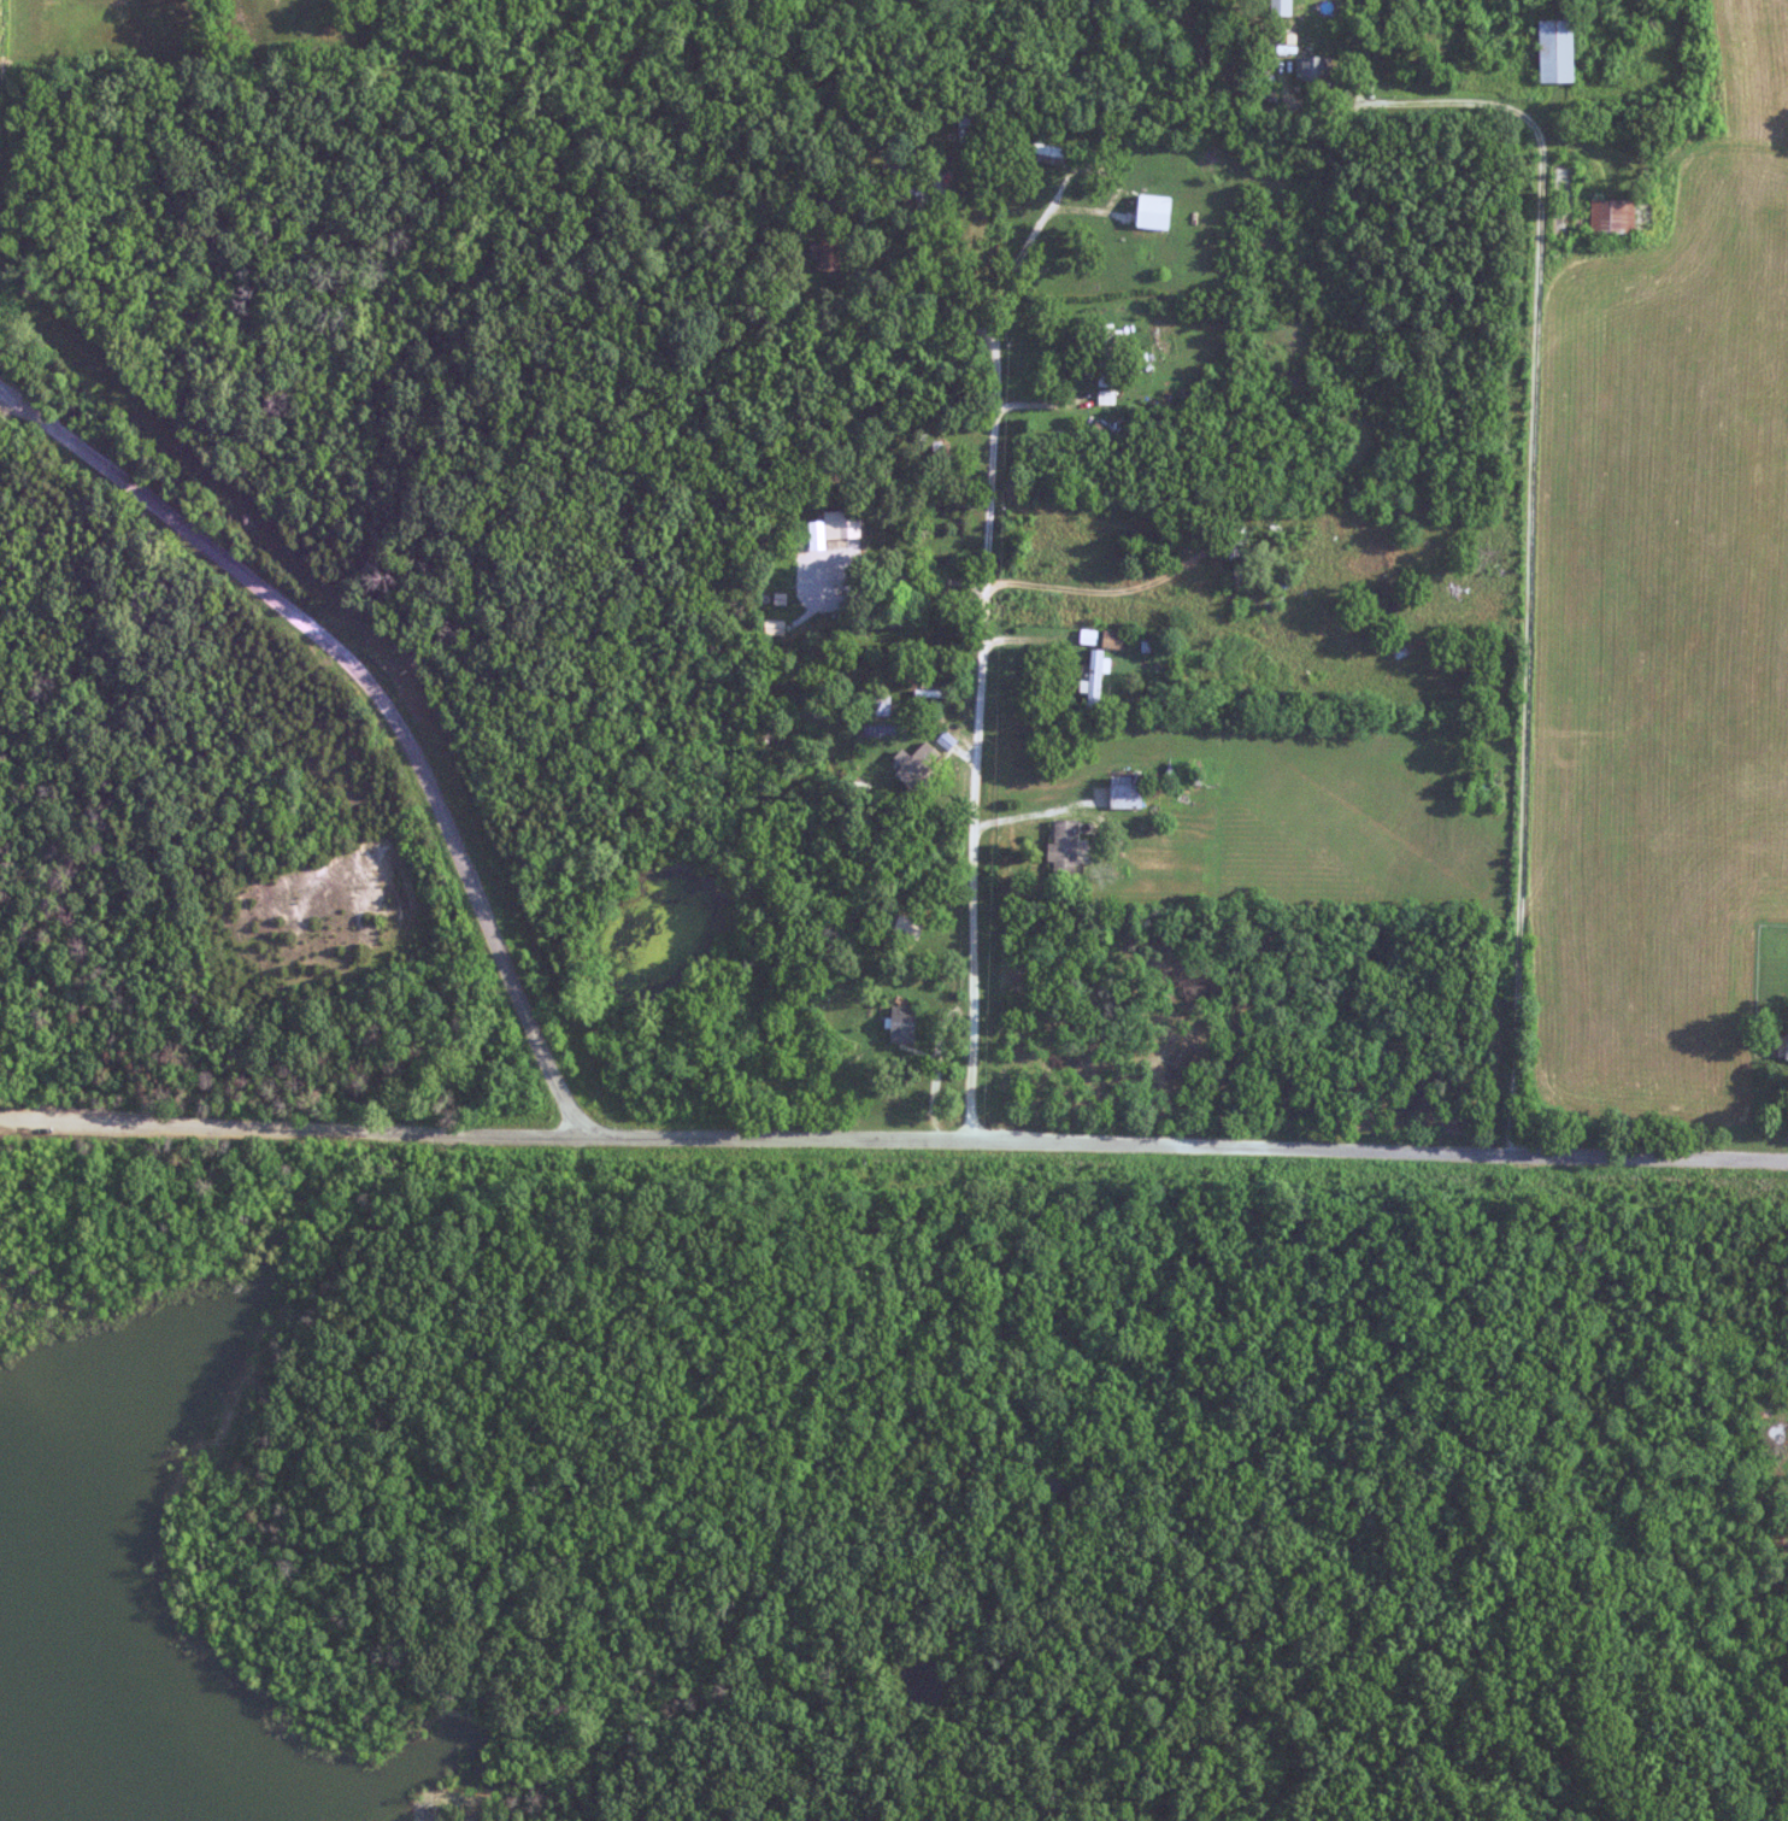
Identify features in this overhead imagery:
building: (1561, 54)
building: (1316, 69)
building: (970, 119)
building: (1565, 180)
road: (1055, 194)
building: (1157, 212)
building: (1613, 216)
building: (831, 254)
road: (1533, 427)
building: (843, 525)
building: (816, 586)
building: (1243, 593)
building: (776, 627)
building: (1114, 639)
building: (1096, 680)
building: (883, 705)
road: (980, 741)
building: (1128, 791)
building: (1065, 848)
building: (910, 928)
building: (905, 1024)
building: (1787, 1047)
road: (295, 1134)
road: (696, 1141)

